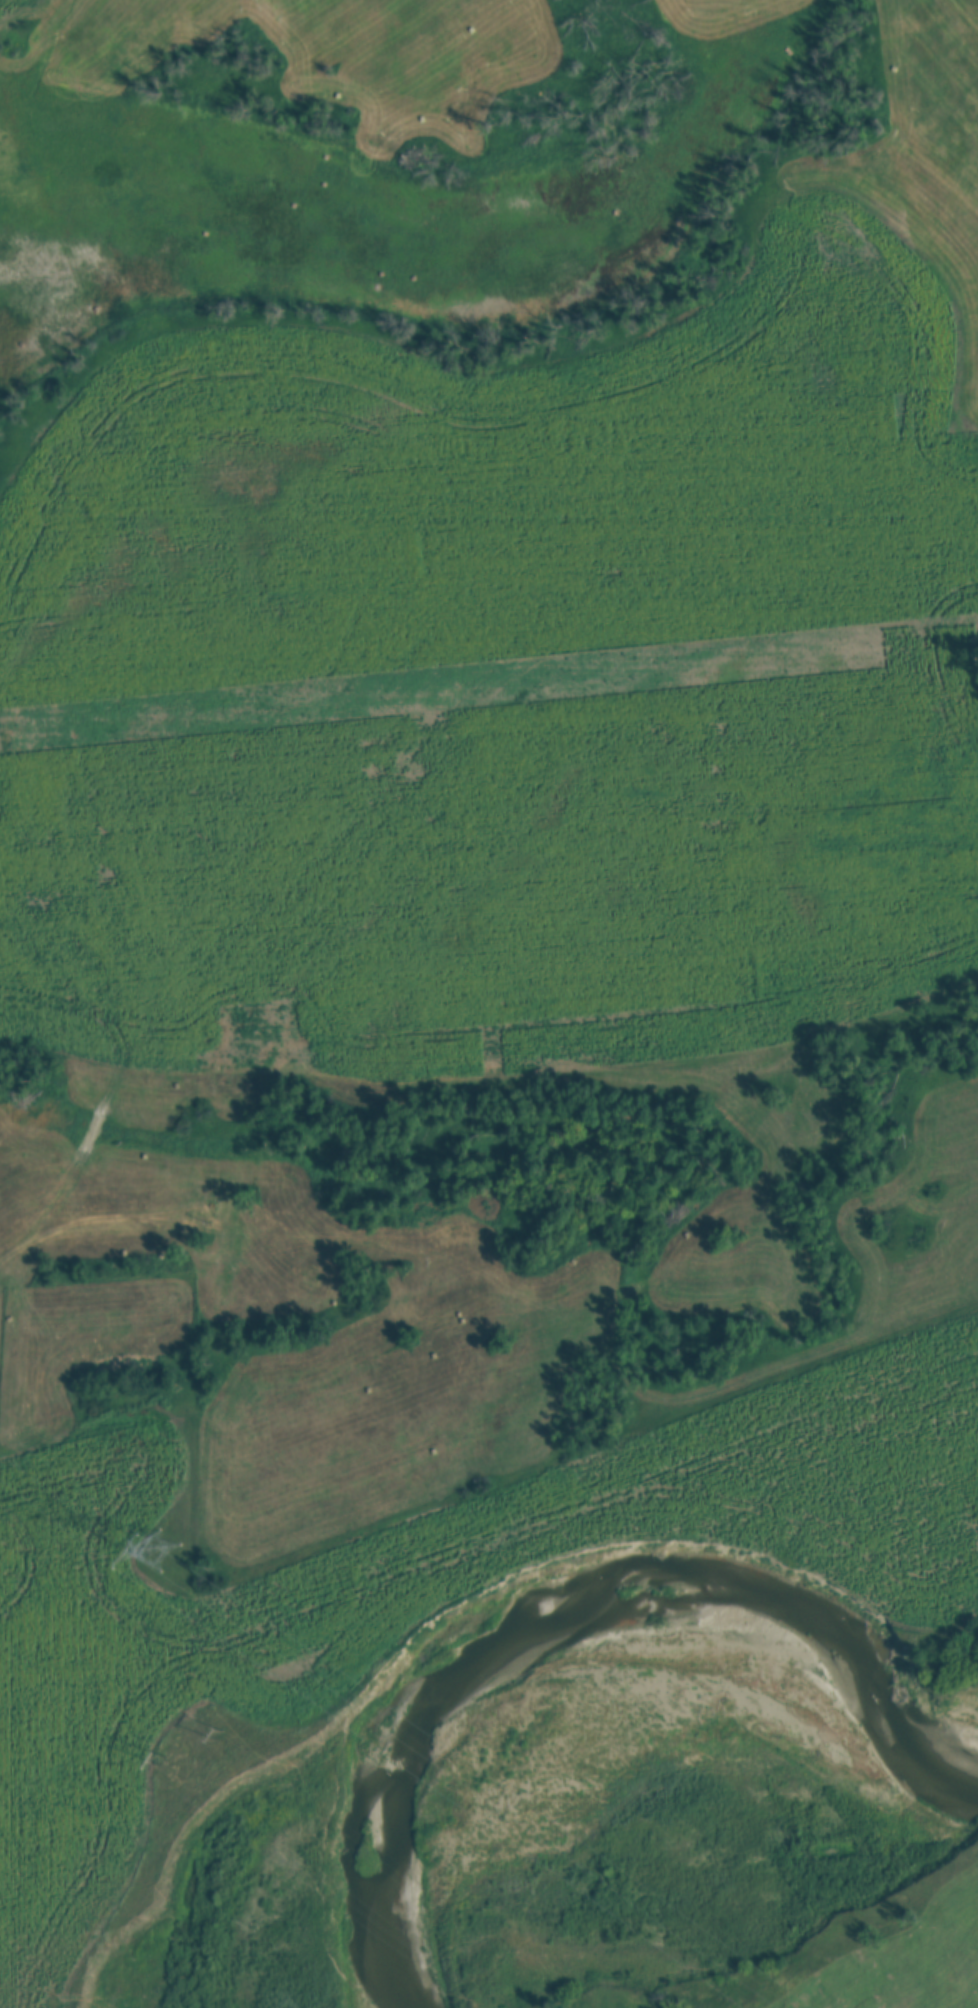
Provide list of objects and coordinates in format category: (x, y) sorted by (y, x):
power tower: (165, 1553)

